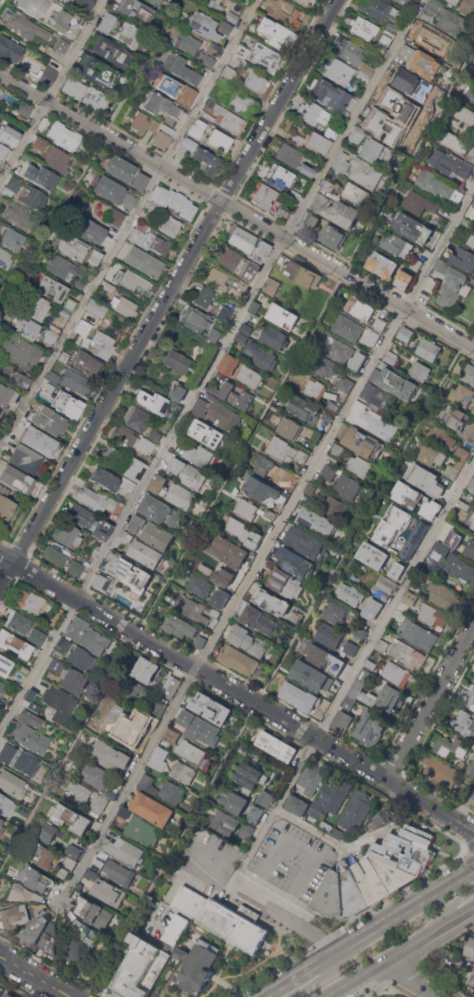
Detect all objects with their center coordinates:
building: (59, 0)
building: (156, 1)
building: (399, 1)
building: (451, 1)
building: (304, 2)
building: (87, 4)
building: (213, 4)
building: (34, 5)
building: (432, 6)
building: (466, 7)
building: (379, 9)
building: (135, 11)
building: (281, 12)
building: (232, 16)
building: (60, 20)
building: (449, 20)
building: (107, 21)
building: (203, 23)
building: (390, 25)
building: (27, 26)
building: (225, 27)
building: (360, 27)
building: (421, 28)
building: (275, 33)
building: (129, 34)
building: (414, 39)
building: (187, 42)
building: (383, 42)
building: (440, 43)
building: (61, 45)
building: (104, 47)
building: (9, 48)
building: (242, 51)
building: (349, 51)
building: (265, 55)
building: (206, 59)
building: (189, 61)
building: (418, 62)
building: (180, 67)
building: (367, 68)
building: (96, 69)
building: (335, 69)
building: (473, 72)
building: (230, 73)
building: (48, 75)
building: (363, 76)
building: (392, 77)
building: (221, 81)
building: (255, 82)
building: (168, 84)
building: (73, 87)
building: (384, 89)
road: (51, 91)
building: (326, 91)
building: (470, 93)
building: (187, 96)
building: (96, 98)
building: (242, 103)
building: (159, 104)
building: (25, 109)
building: (341, 111)
building: (312, 112)
building: (466, 114)
building: (222, 116)
building: (394, 116)
building: (139, 121)
building: (45, 123)
building: (153, 125)
building: (198, 128)
building: (356, 134)
building: (9, 135)
building: (64, 135)
building: (162, 137)
building: (220, 140)
building: (38, 142)
building: (313, 142)
building: (455, 142)
building: (185, 147)
building: (375, 150)
building: (4, 151)
building: (471, 154)
building: (289, 155)
road: (89, 156)
building: (57, 159)
building: (206, 161)
building: (341, 162)
building: (449, 163)
building: (120, 167)
building: (306, 169)
building: (365, 172)
building: (275, 173)
building: (41, 176)
building: (140, 180)
building: (329, 185)
building: (439, 185)
building: (12, 186)
building: (109, 189)
building: (292, 193)
building: (355, 193)
building: (262, 194)
building: (33, 197)
building: (4, 198)
building: (129, 200)
building: (176, 202)
building: (318, 202)
building: (418, 202)
building: (1, 209)
road: (237, 209)
building: (283, 213)
building: (342, 213)
building: (20, 214)
building: (114, 216)
building: (311, 219)
building: (473, 219)
road: (127, 222)
building: (170, 224)
building: (411, 226)
building: (87, 228)
building: (138, 232)
building: (333, 235)
building: (11, 238)
building: (470, 239)
building: (156, 243)
building: (248, 243)
building: (397, 244)
building: (71, 246)
building: (227, 256)
building: (94, 257)
building: (460, 257)
building: (5, 258)
building: (281, 259)
building: (143, 261)
building: (415, 263)
building: (383, 264)
building: (441, 265)
building: (66, 267)
building: (248, 270)
building: (301, 273)
building: (0, 275)
building: (0, 277)
building: (217, 278)
building: (404, 278)
building: (132, 282)
building: (79, 283)
building: (240, 284)
building: (109, 286)
building: (270, 286)
building: (453, 286)
building: (51, 288)
road: (168, 293)
building: (206, 305)
building: (66, 306)
building: (124, 306)
building: (255, 306)
building: (35, 307)
building: (96, 308)
building: (359, 308)
building: (282, 315)
building: (194, 318)
building: (102, 322)
building: (380, 323)
building: (247, 325)
building: (27, 327)
building: (83, 327)
building: (348, 327)
building: (54, 328)
building: (405, 333)
building: (50, 335)
building: (211, 335)
building: (372, 336)
building: (75, 337)
building: (241, 337)
building: (274, 337)
building: (102, 344)
building: (428, 349)
building: (19, 350)
building: (341, 351)
building: (260, 355)
building: (391, 356)
building: (64, 357)
building: (173, 359)
building: (87, 362)
building: (228, 363)
building: (324, 365)
road: (210, 366)
building: (419, 370)
building: (468, 374)
building: (250, 376)
building: (53, 377)
building: (20, 378)
building: (76, 381)
building: (397, 383)
building: (345, 384)
building: (47, 387)
building: (315, 388)
building: (177, 391)
building: (232, 394)
building: (461, 394)
building: (6, 395)
building: (376, 397)
building: (152, 401)
building: (67, 403)
building: (330, 405)
building: (303, 406)
building: (201, 407)
building: (473, 411)
building: (223, 413)
building: (327, 416)
building: (136, 417)
building: (455, 417)
building: (49, 420)
building: (370, 420)
building: (2, 425)
road: (334, 426)
building: (290, 427)
building: (471, 429)
building: (207, 433)
building: (154, 434)
building: (124, 435)
building: (441, 435)
building: (38, 440)
building: (361, 440)
building: (146, 445)
building: (338, 449)
building: (285, 450)
building: (461, 453)
building: (111, 454)
building: (199, 454)
building: (430, 454)
building: (25, 459)
road: (234, 462)
building: (359, 465)
building: (133, 468)
building: (269, 468)
building: (453, 469)
building: (328, 471)
building: (187, 472)
building: (17, 478)
building: (295, 478)
building: (423, 478)
building: (110, 480)
building: (471, 485)
building: (346, 486)
building: (310, 487)
building: (262, 489)
building: (172, 491)
building: (118, 496)
building: (95, 499)
building: (417, 500)
building: (5, 503)
building: (464, 505)
building: (334, 506)
building: (246, 508)
building: (160, 510)
building: (403, 513)
building: (270, 514)
building: (81, 515)
building: (472, 520)
building: (316, 521)
building: (397, 521)
building: (136, 523)
building: (388, 528)
building: (101, 529)
building: (243, 532)
building: (67, 535)
building: (158, 535)
building: (126, 536)
building: (454, 538)
building: (382, 539)
building: (414, 540)
building: (306, 542)
building: (469, 547)
building: (228, 550)
building: (438, 551)
building: (145, 554)
building: (373, 555)
building: (64, 560)
building: (295, 562)
building: (267, 564)
building: (459, 567)
building: (398, 569)
building: (130, 571)
building: (218, 571)
building: (100, 582)
building: (285, 583)
building: (199, 585)
building: (384, 587)
building: (350, 593)
building: (444, 595)
building: (220, 597)
building: (270, 600)
building: (407, 601)
building: (30, 602)
building: (191, 608)
building: (372, 608)
building: (335, 612)
building: (55, 615)
building: (400, 615)
building: (433, 616)
building: (212, 618)
building: (258, 619)
building: (16, 620)
building: (180, 626)
building: (360, 631)
building: (328, 635)
building: (419, 635)
building: (37, 636)
building: (87, 636)
building: (7, 638)
building: (248, 639)
building: (200, 642)
building: (63, 645)
building: (350, 648)
building: (403, 652)
building: (323, 658)
building: (237, 659)
road: (280, 659)
building: (83, 660)
building: (26, 661)
building: (371, 664)
building: (5, 665)
building: (56, 665)
building: (22, 669)
building: (146, 669)
road: (354, 672)
building: (396, 673)
building: (310, 676)
building: (473, 679)
building: (74, 681)
building: (1, 686)
building: (170, 686)
building: (133, 688)
building: (388, 688)
road: (237, 691)
building: (298, 696)
building: (470, 699)
building: (29, 700)
building: (348, 702)
road: (431, 702)
building: (59, 703)
building: (159, 707)
building: (324, 707)
building: (210, 708)
building: (342, 720)
building: (119, 721)
building: (153, 721)
building: (464, 724)
building: (199, 727)
building: (370, 727)
building: (31, 732)
building: (170, 737)
building: (277, 745)
building: (451, 747)
building: (138, 750)
building: (7, 753)
building: (193, 753)
building: (110, 755)
building: (158, 758)
park: (64, 760)
building: (27, 763)
building: (471, 769)
building: (440, 771)
building: (183, 772)
building: (94, 774)
building: (249, 776)
building: (312, 777)
building: (146, 781)
building: (12, 783)
road: (129, 783)
building: (169, 793)
building: (111, 794)
building: (88, 796)
building: (333, 797)
building: (265, 798)
building: (234, 802)
building: (297, 804)
road: (465, 804)
building: (6, 805)
building: (152, 808)
building: (357, 809)
building: (125, 812)
building: (255, 814)
building: (72, 817)
building: (386, 818)
building: (224, 822)
building: (1, 826)
building: (247, 829)
building: (142, 830)
road: (312, 830)
building: (49, 831)
building: (420, 831)
building: (338, 833)
building: (403, 834)
building: (104, 843)
building: (385, 844)
building: (74, 851)
building: (129, 852)
building: (44, 856)
building: (402, 858)
building: (418, 863)
building: (66, 868)
building: (117, 870)
building: (91, 874)
building: (35, 877)
building: (379, 878)
building: (78, 885)
building: (19, 892)
building: (109, 892)
building: (341, 892)
building: (79, 896)
road: (467, 913)
building: (14, 914)
building: (97, 915)
road: (292, 916)
building: (223, 918)
road: (395, 920)
building: (69, 925)
building: (177, 928)
building: (34, 929)
building: (86, 930)
building: (49, 941)
building: (470, 947)
building: (72, 950)
building: (181, 952)
road: (396, 956)
building: (199, 966)
building: (140, 968)
road: (37, 975)
building: (472, 980)
road: (411, 981)
road: (293, 983)
building: (4, 992)
road: (65, 992)

